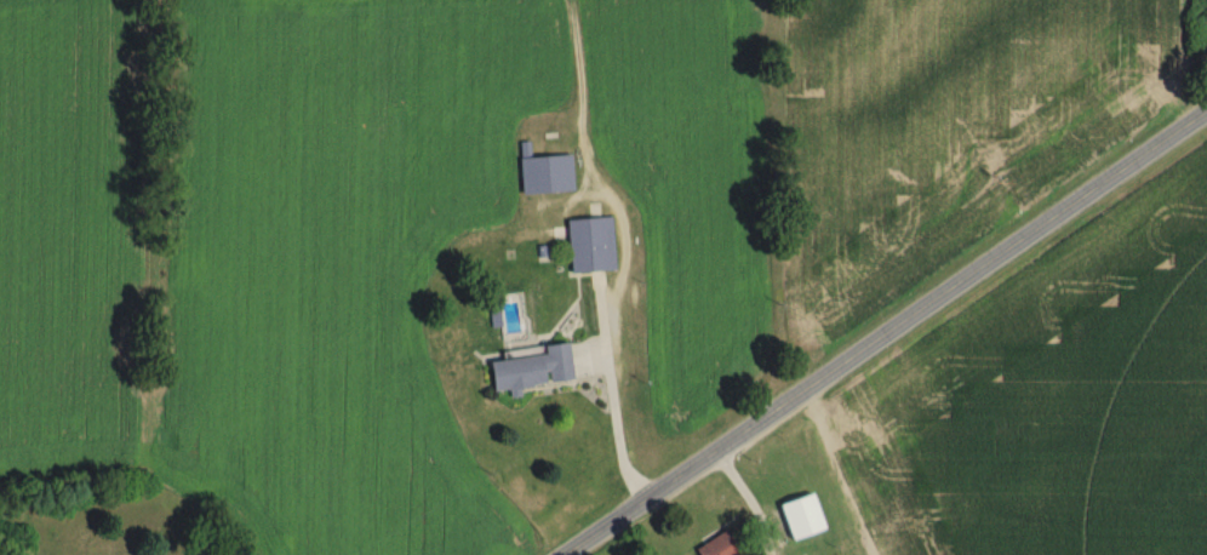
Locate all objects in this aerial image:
building: (545, 174)
building: (589, 245)
road: (882, 334)
building: (531, 370)
road: (608, 400)
road: (744, 500)
building: (716, 547)

